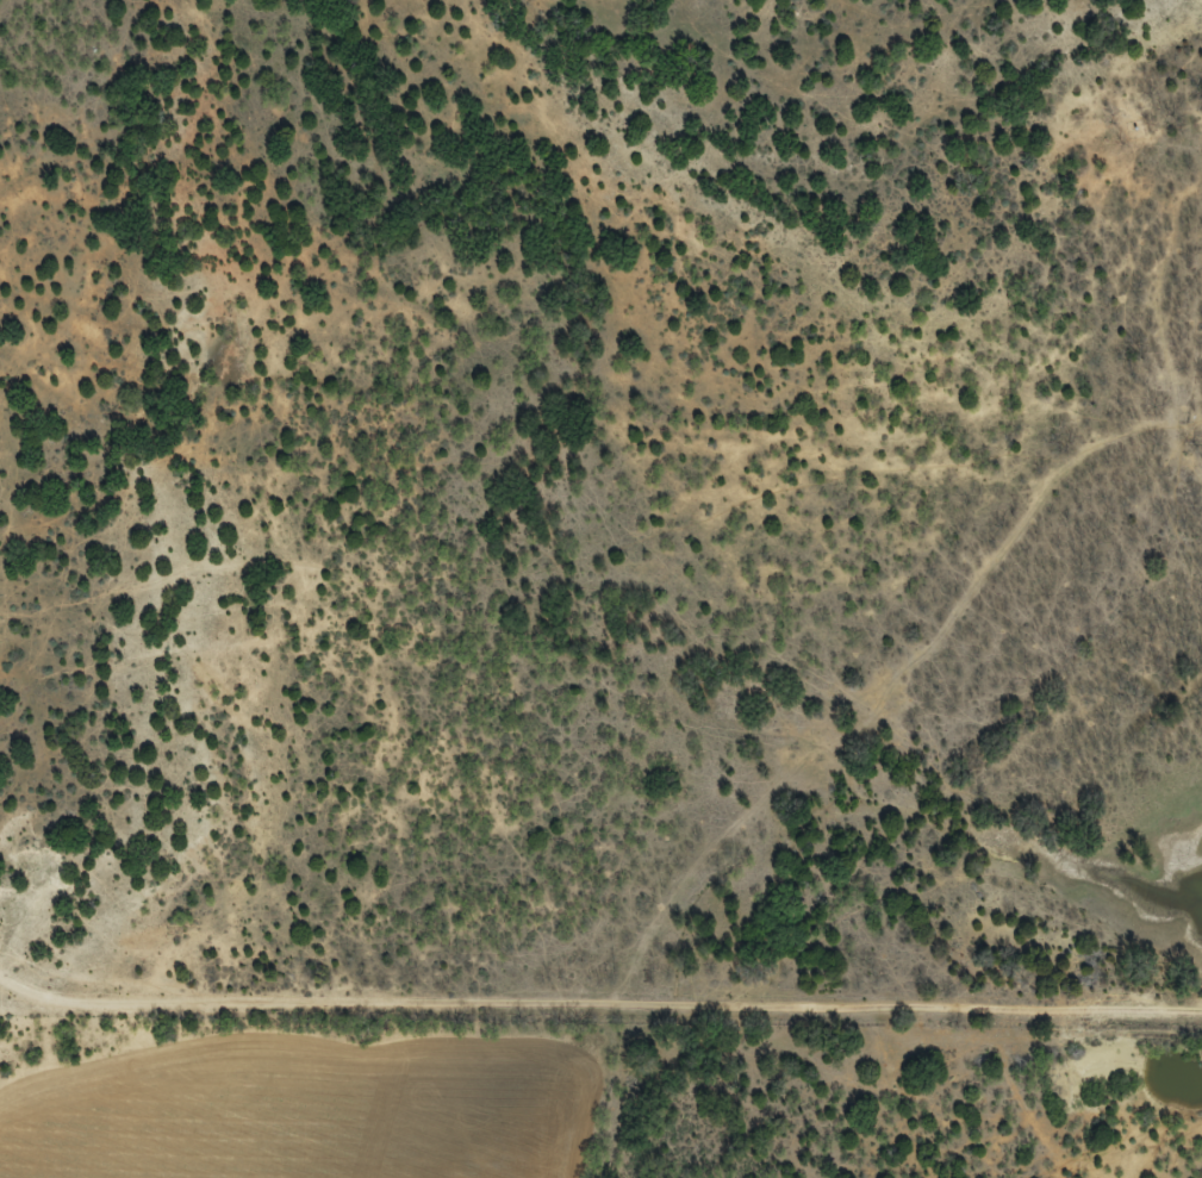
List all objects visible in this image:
road: (597, 992)

